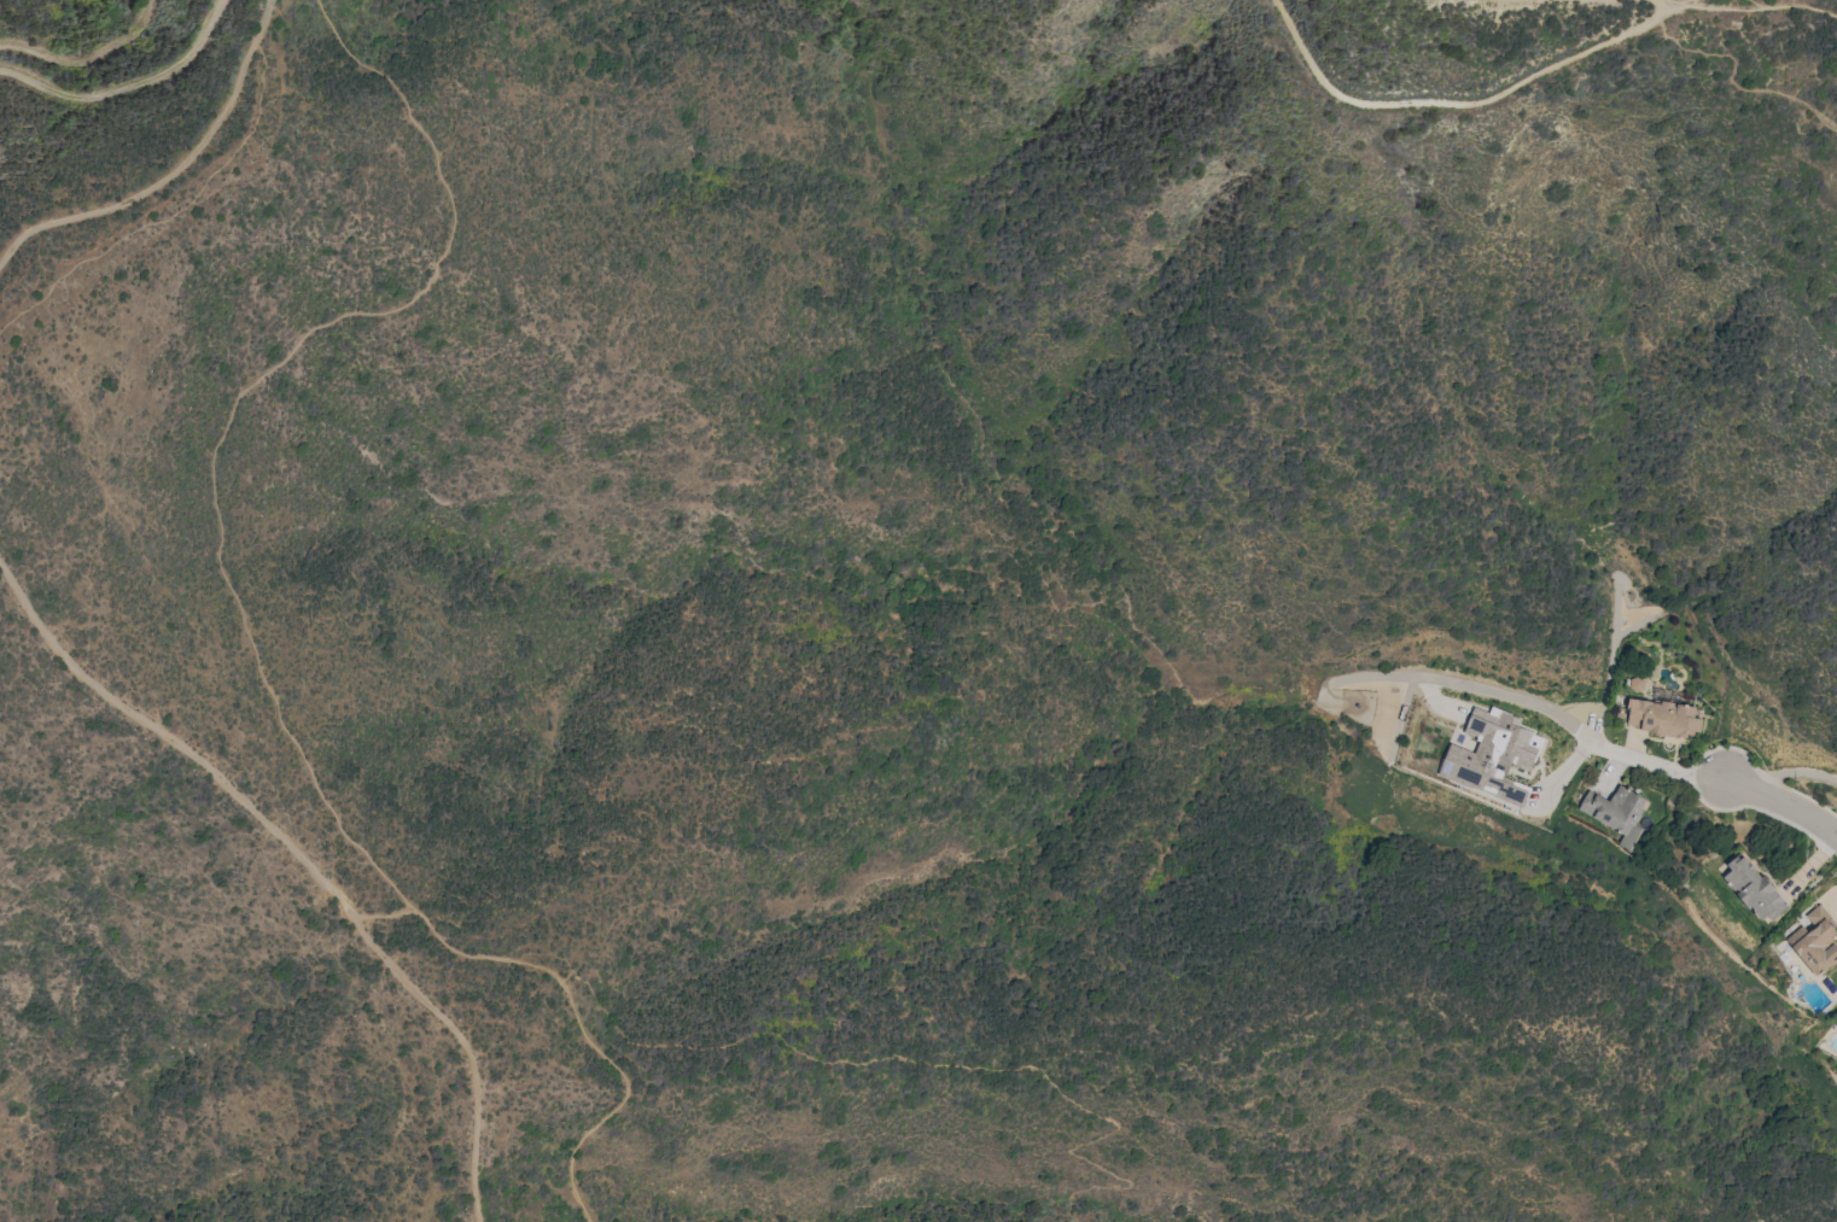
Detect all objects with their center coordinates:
road: (1664, 4)
road: (1680, 4)
road: (1762, 6)
road: (87, 63)
road: (123, 87)
road: (1453, 105)
road: (173, 171)
road: (240, 616)
road: (1541, 703)
building: (1662, 718)
road: (1784, 800)
building: (1616, 812)
road: (303, 859)
building: (1753, 889)
road: (383, 913)
building: (1814, 941)
road: (908, 1063)

